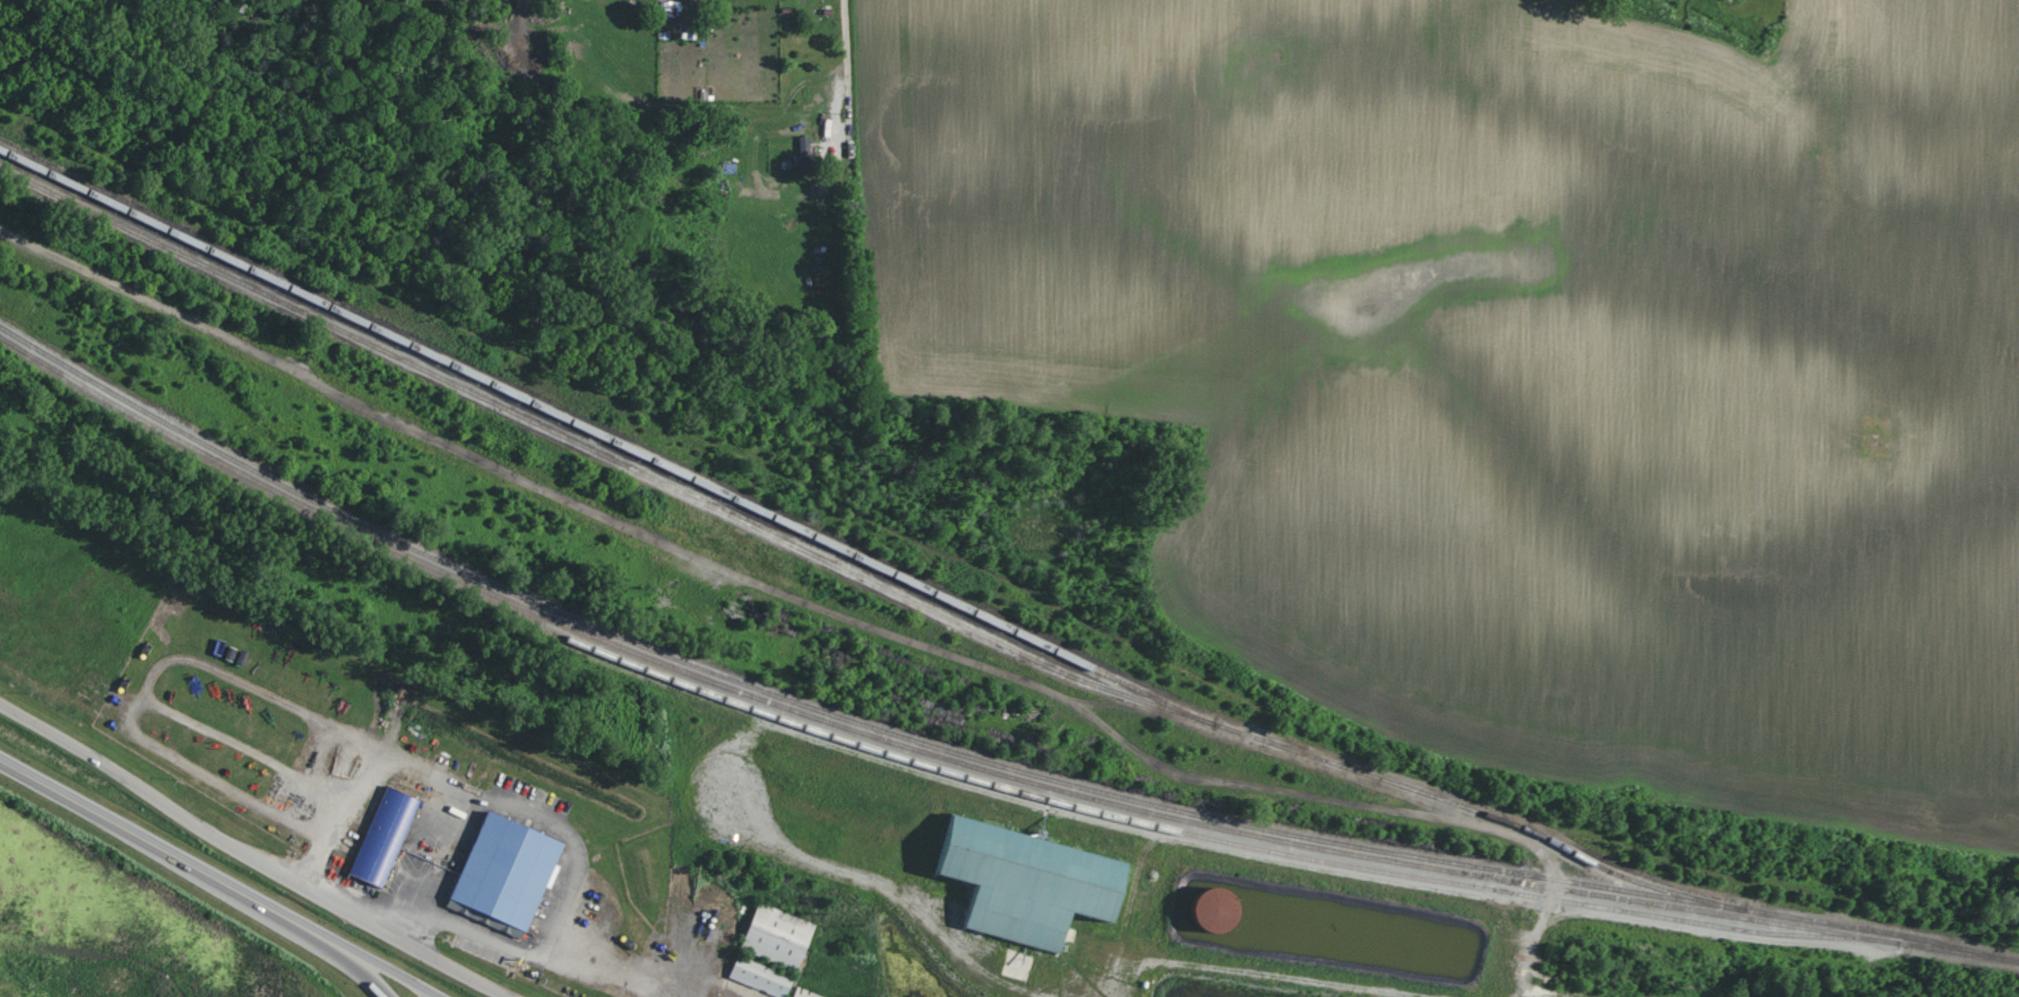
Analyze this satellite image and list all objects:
road: (847, 125)
building: (807, 155)
railway: (858, 557)
road: (833, 607)
railway: (972, 758)
road: (337, 819)
building: (386, 834)
railway: (858, 836)
road: (157, 847)
building: (508, 872)
road: (580, 875)
building: (1033, 880)
building: (1223, 906)
building: (779, 936)
road: (374, 961)
road: (350, 964)
road: (648, 972)
building: (807, 993)

